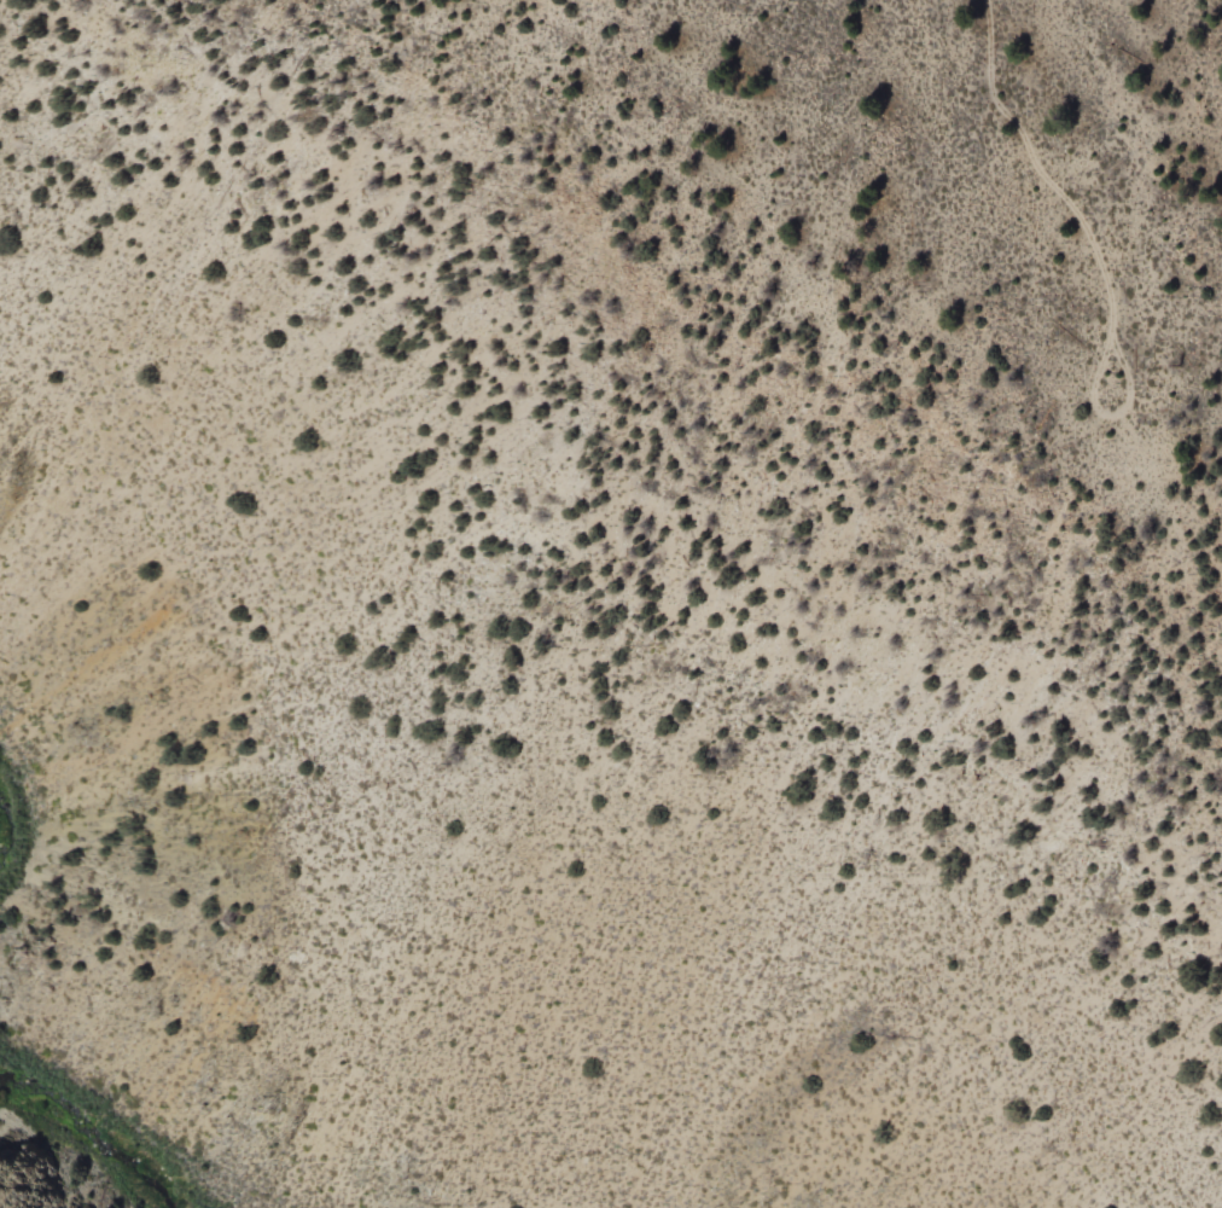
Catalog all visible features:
road: (1043, 169)
road: (1108, 412)

